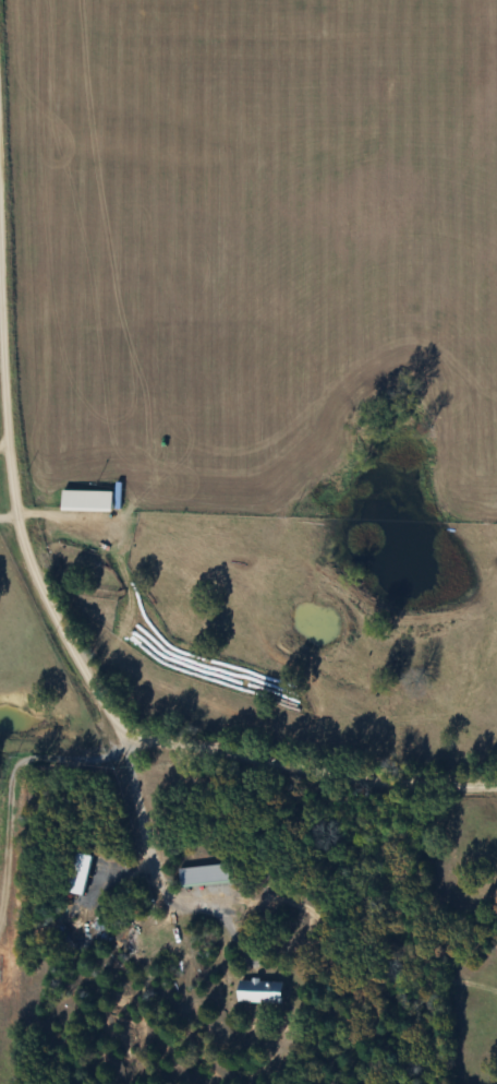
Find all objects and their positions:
road: (5, 449)
building: (88, 502)
road: (11, 520)
road: (74, 640)
building: (206, 875)
building: (260, 992)

